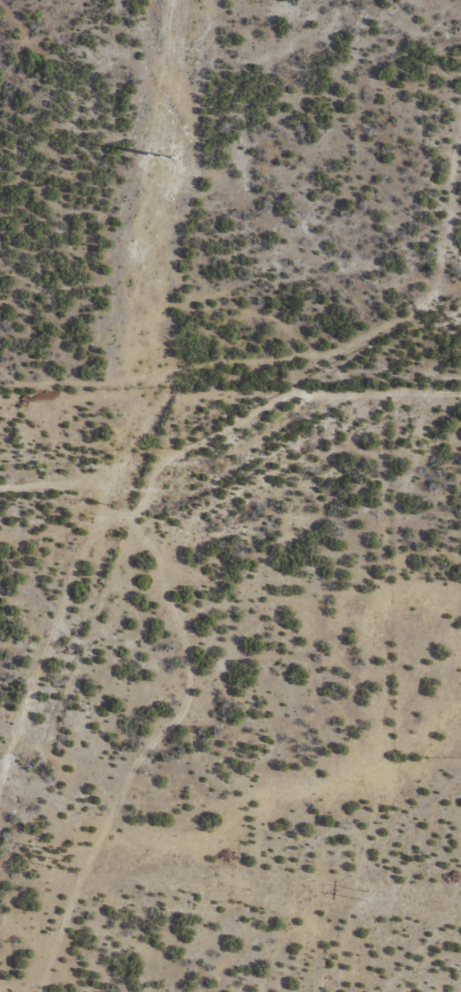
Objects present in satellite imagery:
power tower: (157, 150)
road: (125, 495)
power tower: (112, 505)
power tower: (68, 860)
power tower: (368, 894)

